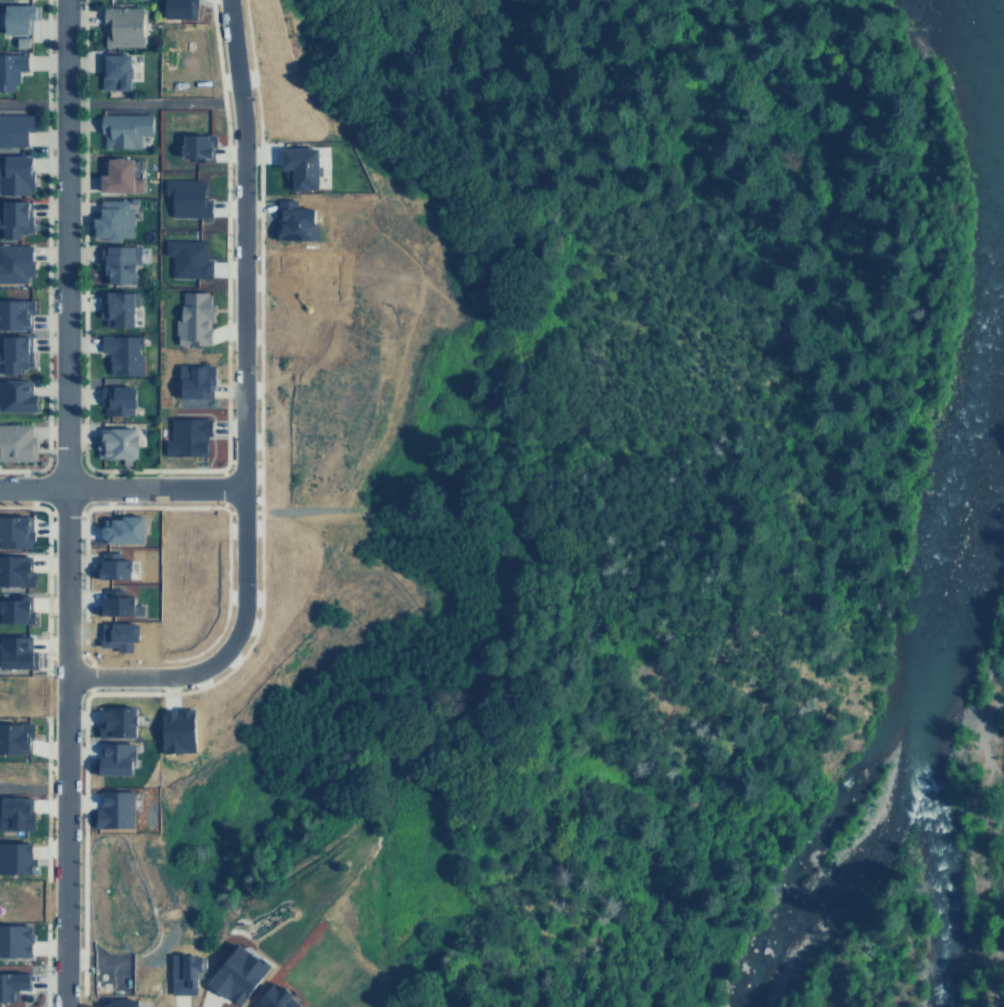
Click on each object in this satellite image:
building: (179, 6)
building: (18, 19)
building: (122, 27)
building: (20, 45)
road: (213, 52)
building: (116, 70)
building: (10, 71)
road: (110, 102)
building: (13, 131)
building: (123, 133)
building: (198, 145)
building: (304, 165)
building: (16, 175)
building: (120, 176)
building: (189, 197)
building: (14, 219)
building: (112, 219)
building: (293, 222)
road: (44, 225)
road: (81, 225)
road: (258, 230)
building: (189, 258)
building: (15, 263)
building: (120, 264)
building: (310, 271)
road: (223, 282)
building: (117, 306)
building: (14, 311)
building: (195, 319)
building: (14, 352)
building: (122, 353)
building: (199, 380)
building: (16, 397)
building: (119, 399)
road: (239, 409)
building: (189, 437)
building: (119, 442)
building: (16, 443)
road: (108, 469)
road: (29, 488)
road: (105, 488)
road: (119, 488)
road: (220, 488)
road: (67, 503)
road: (117, 507)
road: (248, 512)
river: (964, 528)
building: (124, 529)
building: (17, 530)
road: (80, 566)
building: (15, 567)
building: (114, 567)
road: (43, 594)
building: (118, 604)
building: (16, 608)
road: (252, 633)
building: (122, 634)
building: (18, 652)
road: (194, 652)
road: (63, 655)
building: (119, 719)
building: (181, 729)
building: (15, 739)
road: (43, 752)
building: (117, 757)
road: (21, 787)
building: (116, 809)
building: (16, 815)
road: (80, 831)
road: (43, 834)
building: (17, 857)
building: (16, 941)
road: (998, 953)
road: (43, 965)
building: (242, 972)
building: (189, 973)
building: (13, 982)
building: (280, 991)
building: (126, 1003)

